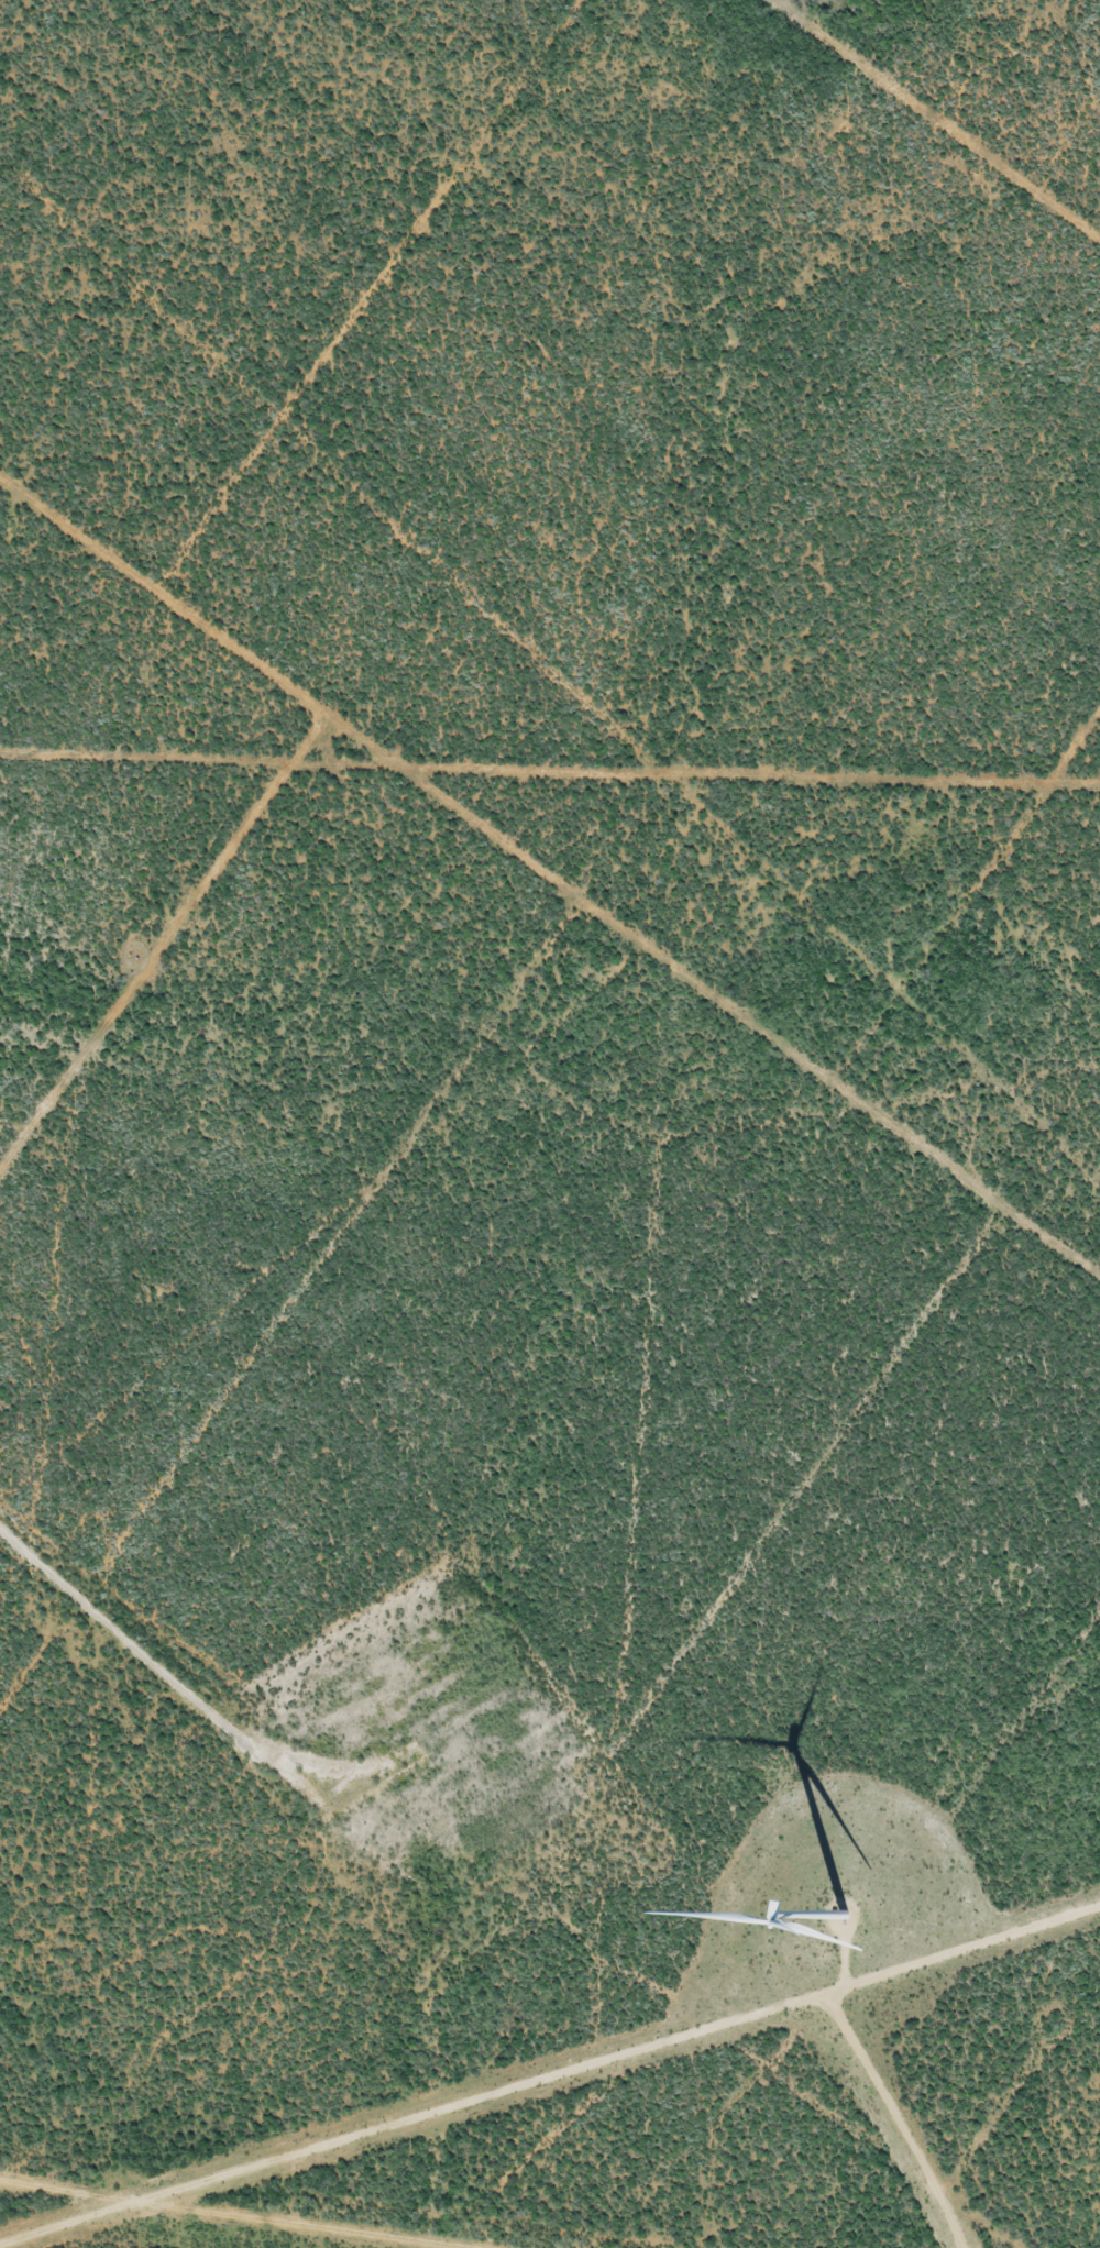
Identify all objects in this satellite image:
wind turbine: (833, 1937)

